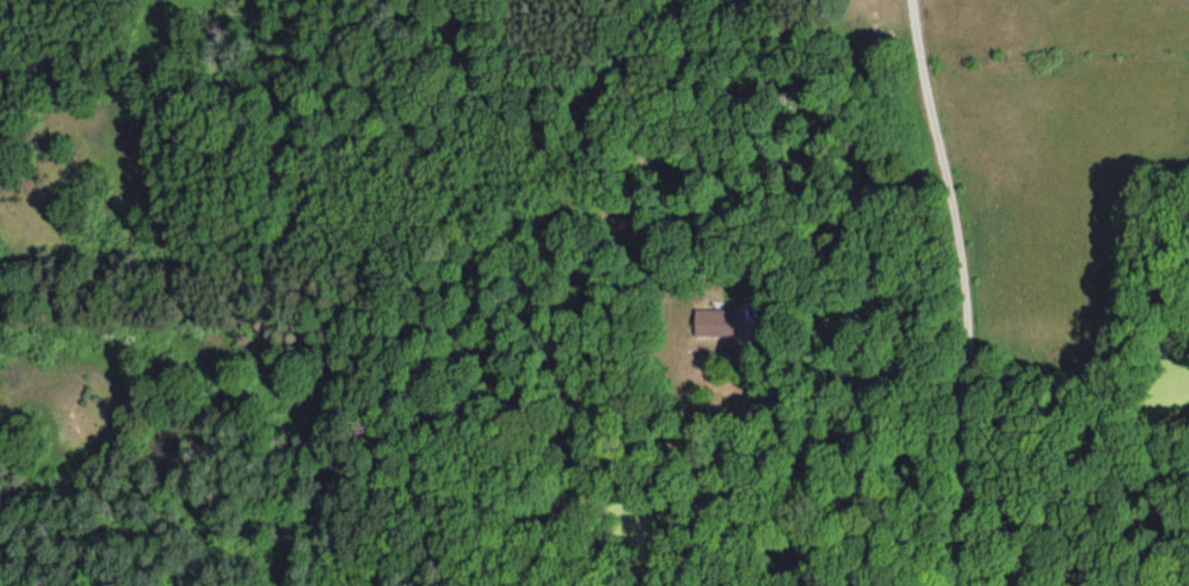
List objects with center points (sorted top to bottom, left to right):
road: (963, 291)

